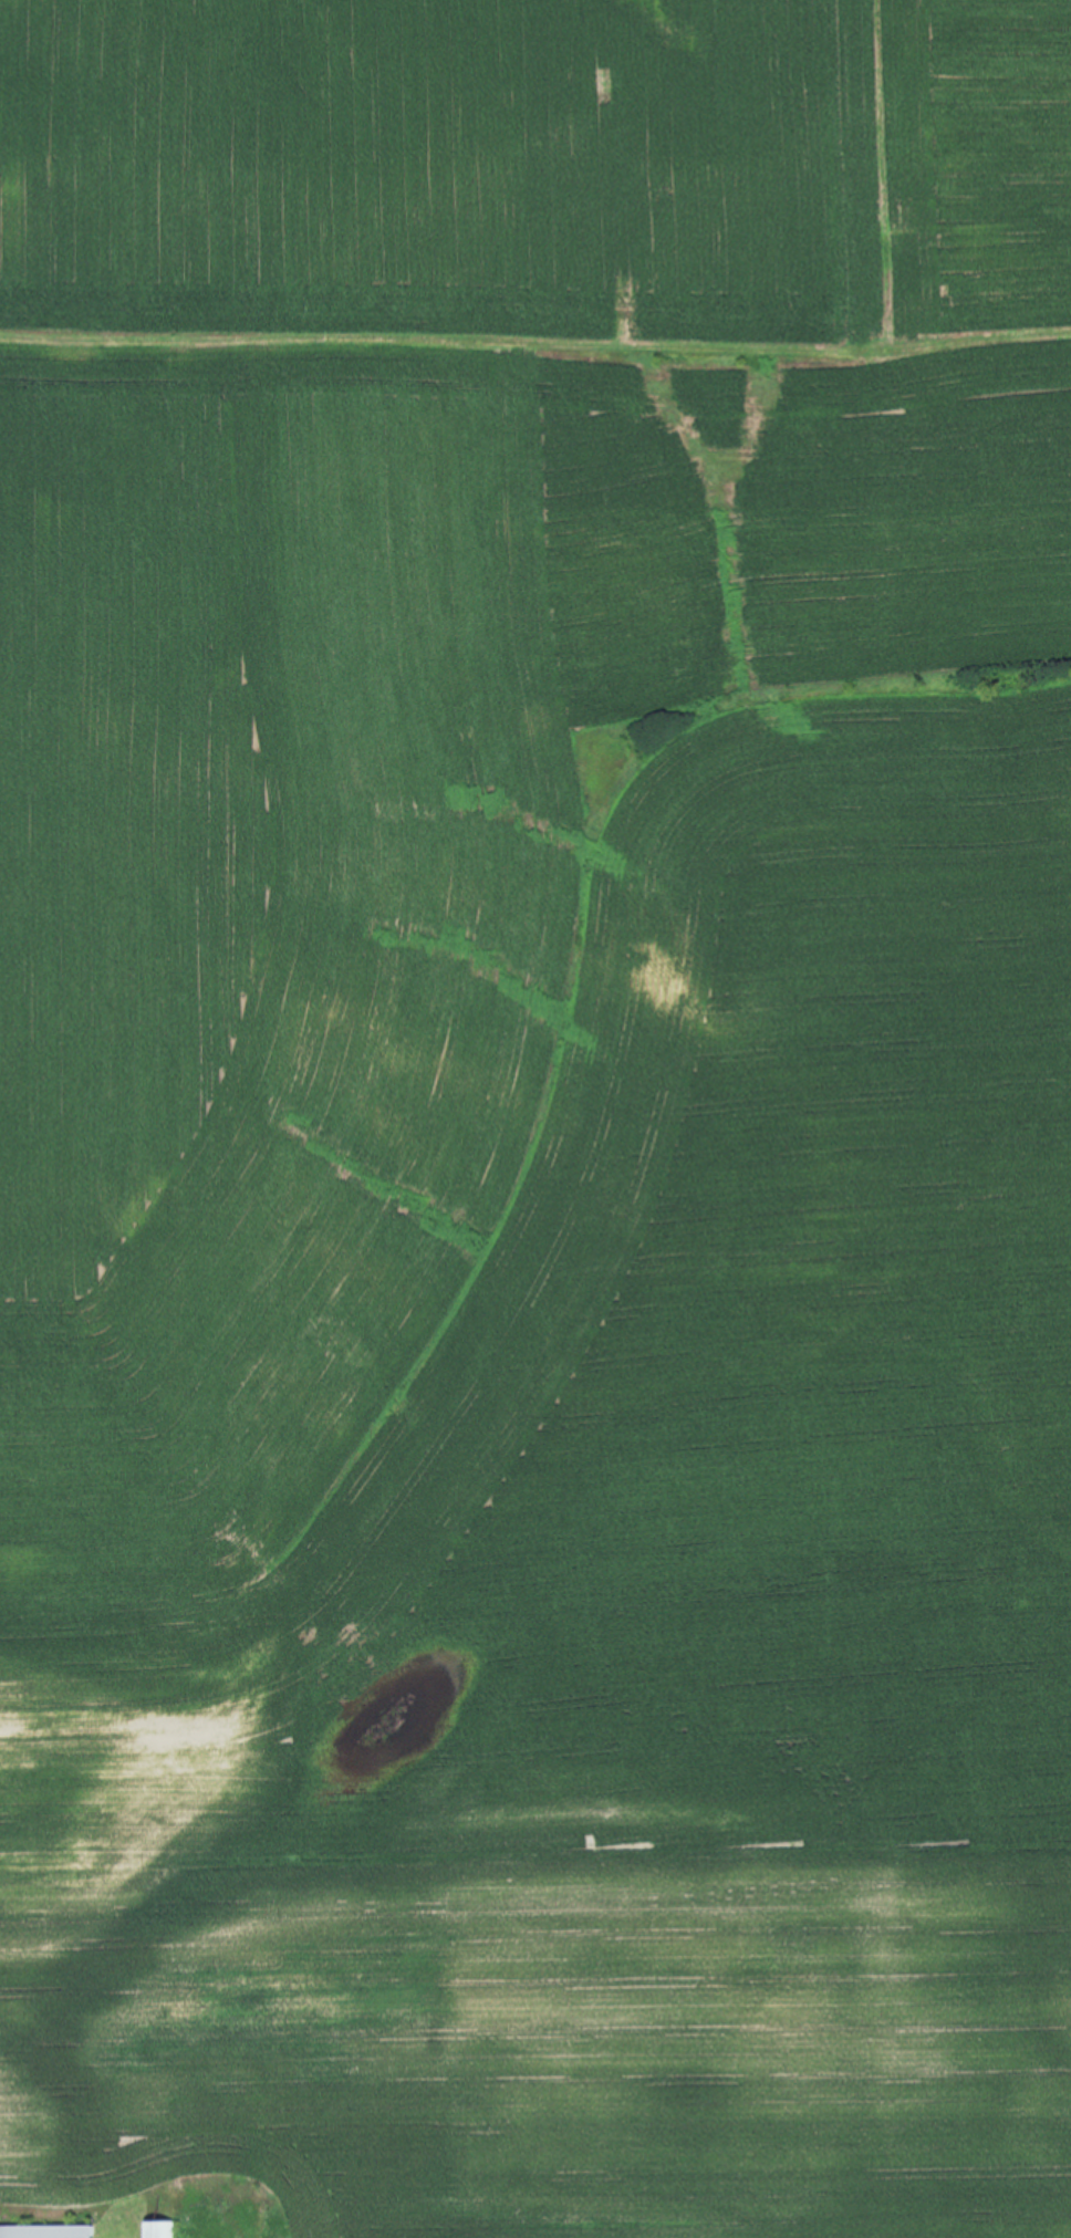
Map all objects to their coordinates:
building: (154, 2229)
building: (43, 2231)

